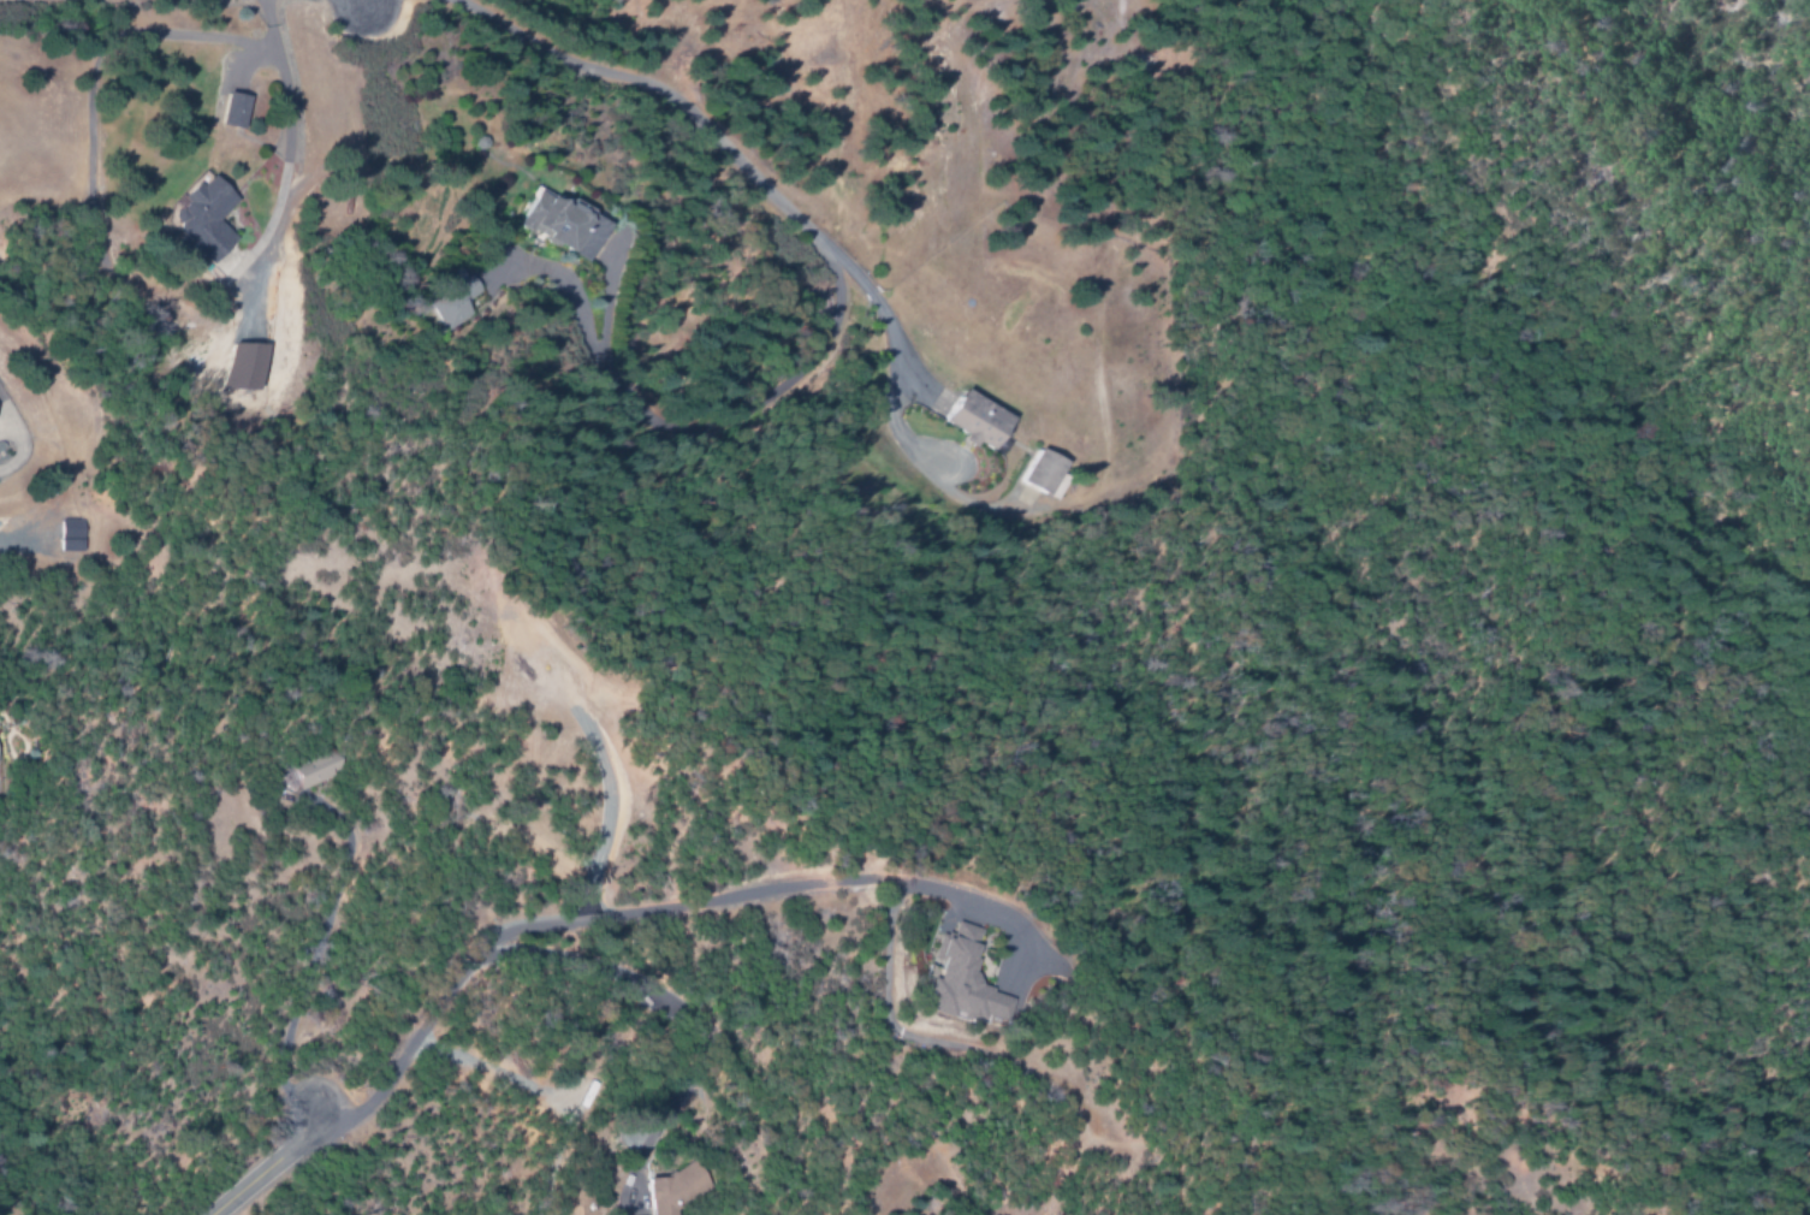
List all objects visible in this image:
building: (230, 111)
building: (197, 218)
building: (556, 224)
building: (451, 301)
building: (245, 367)
building: (971, 421)
building: (1039, 475)
building: (66, 535)
building: (307, 772)
building: (957, 983)
road: (260, 1169)
building: (666, 1189)

